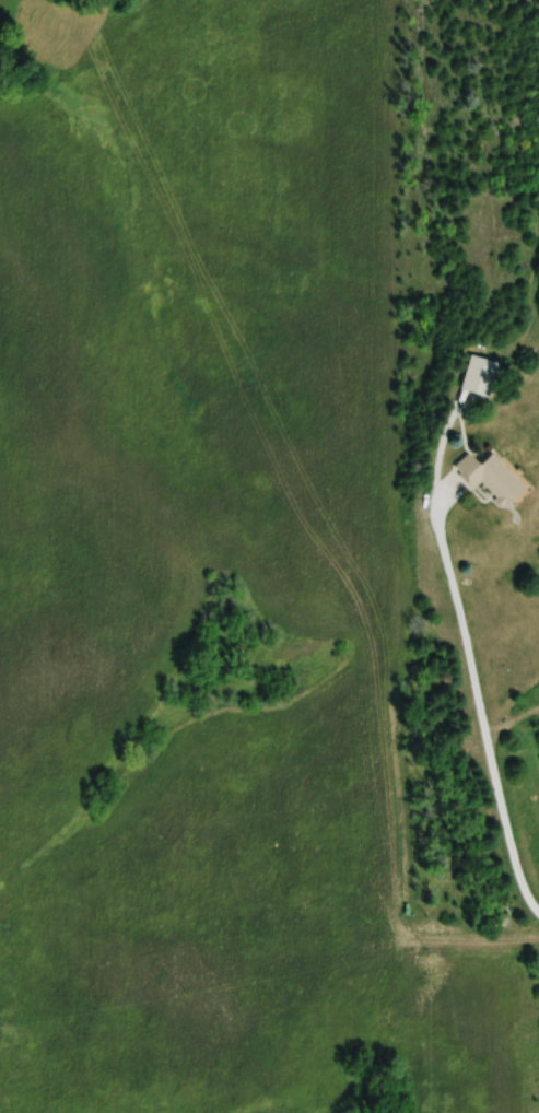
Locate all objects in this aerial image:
building: (491, 477)
road: (472, 704)

